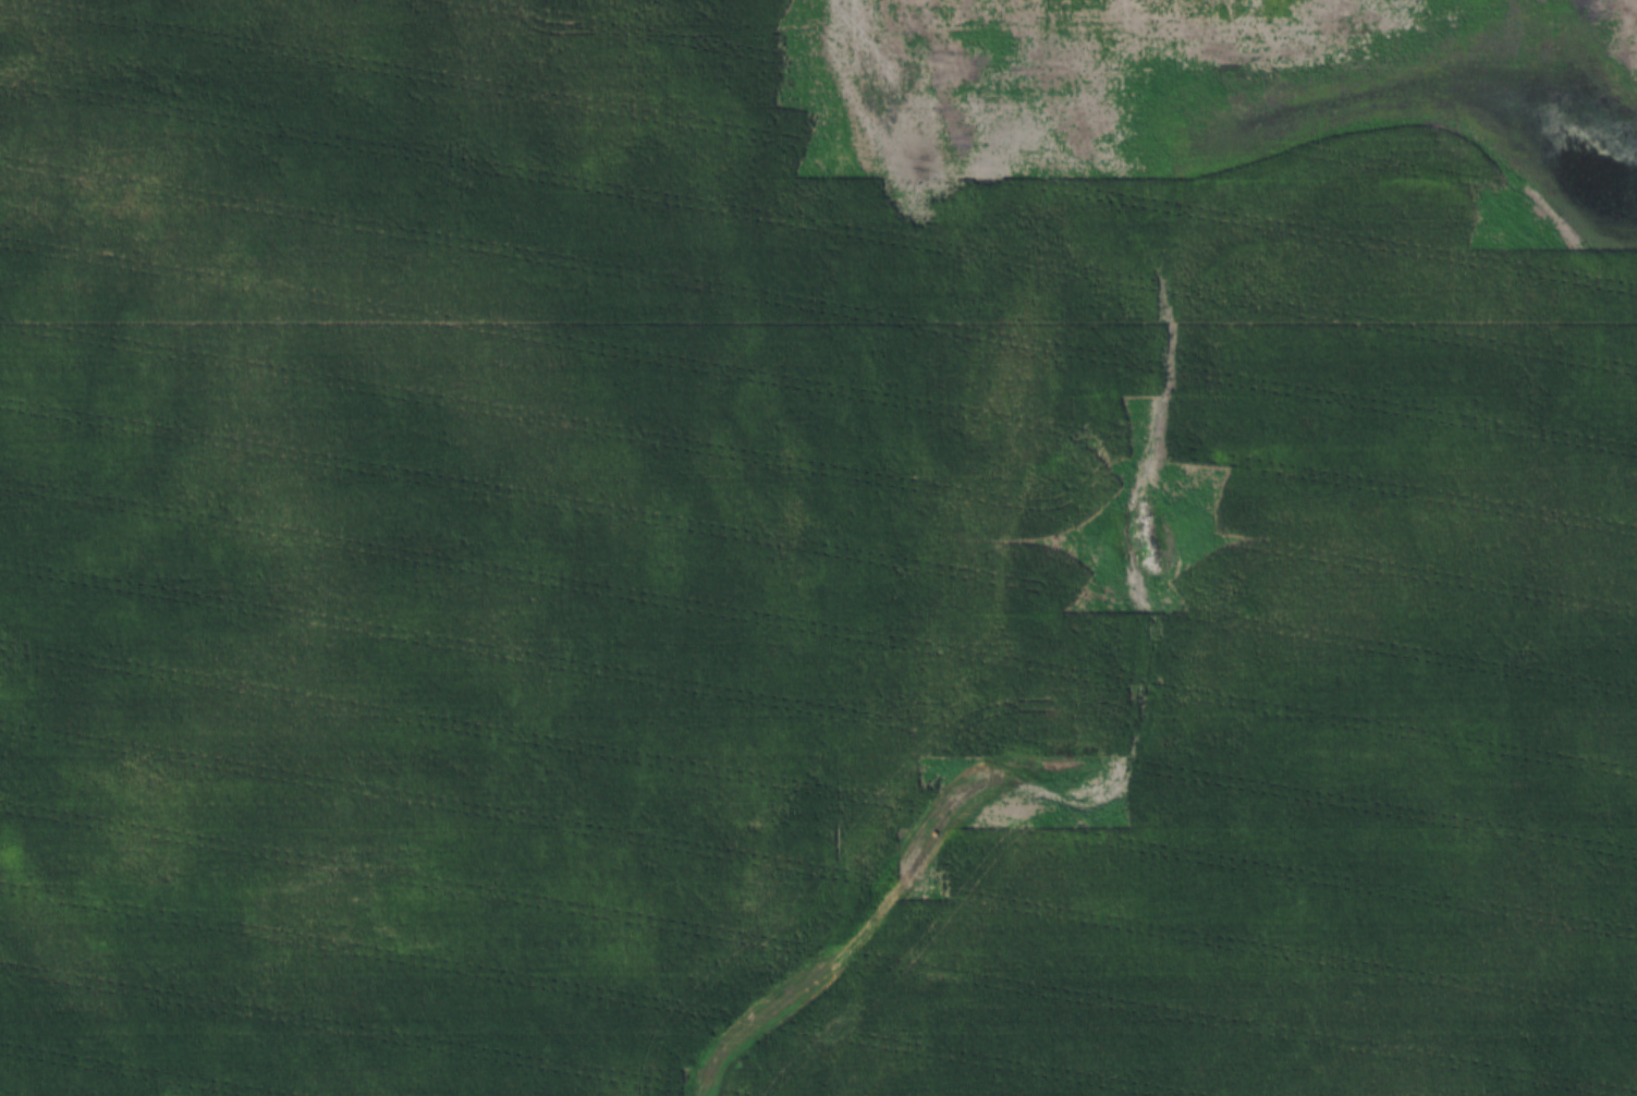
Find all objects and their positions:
road: (1542, 547)

